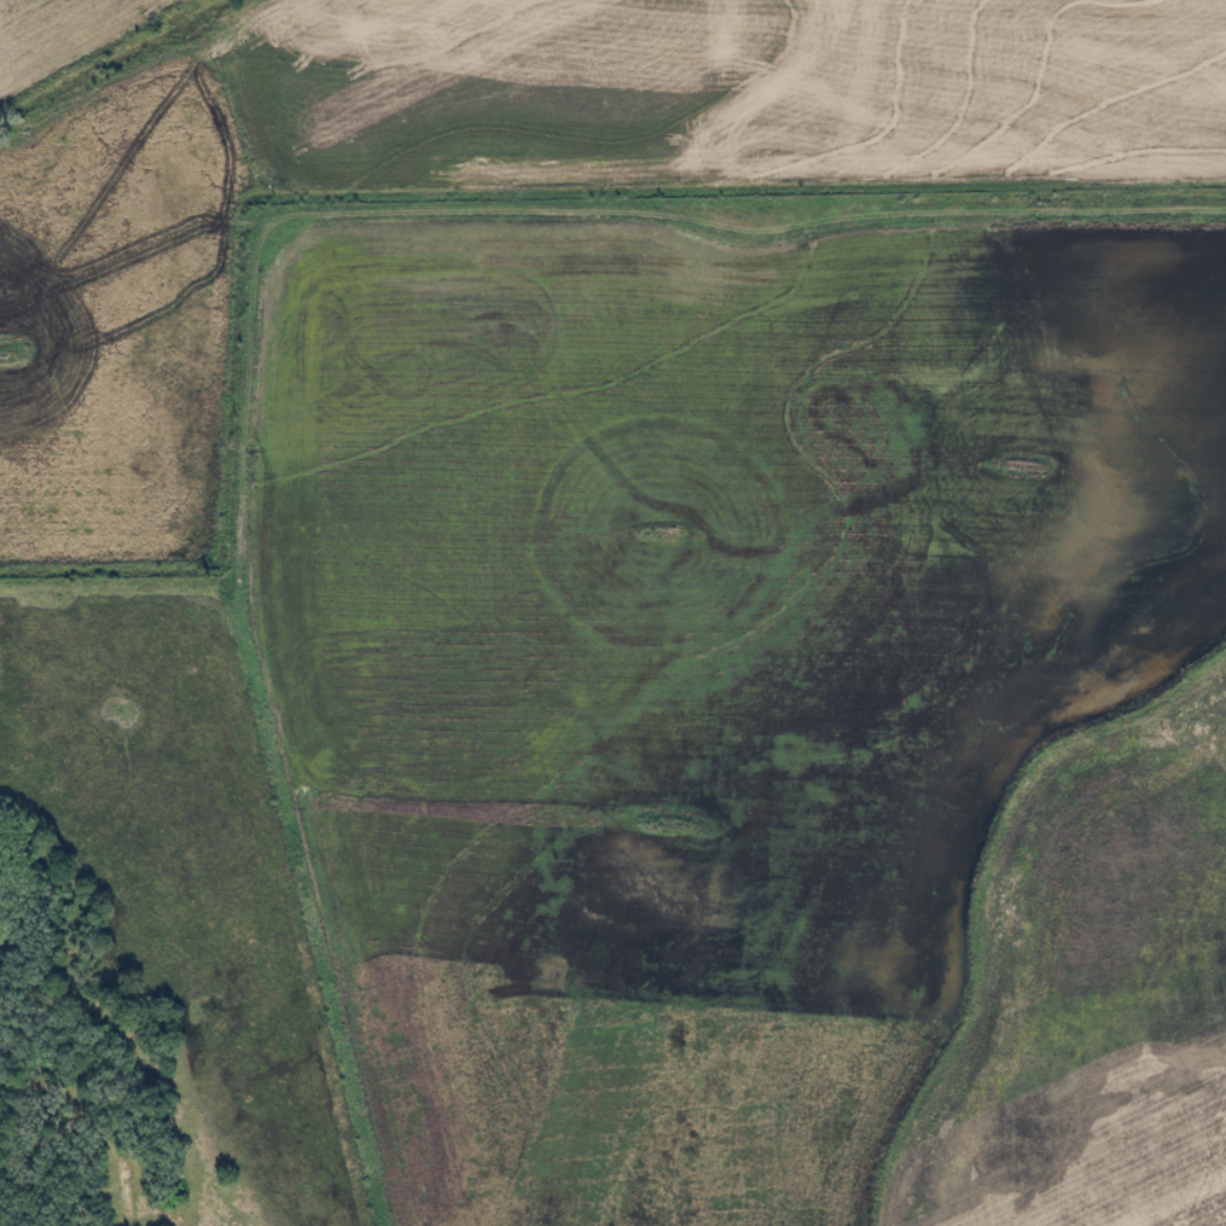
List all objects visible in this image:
building: (117, 1190)

